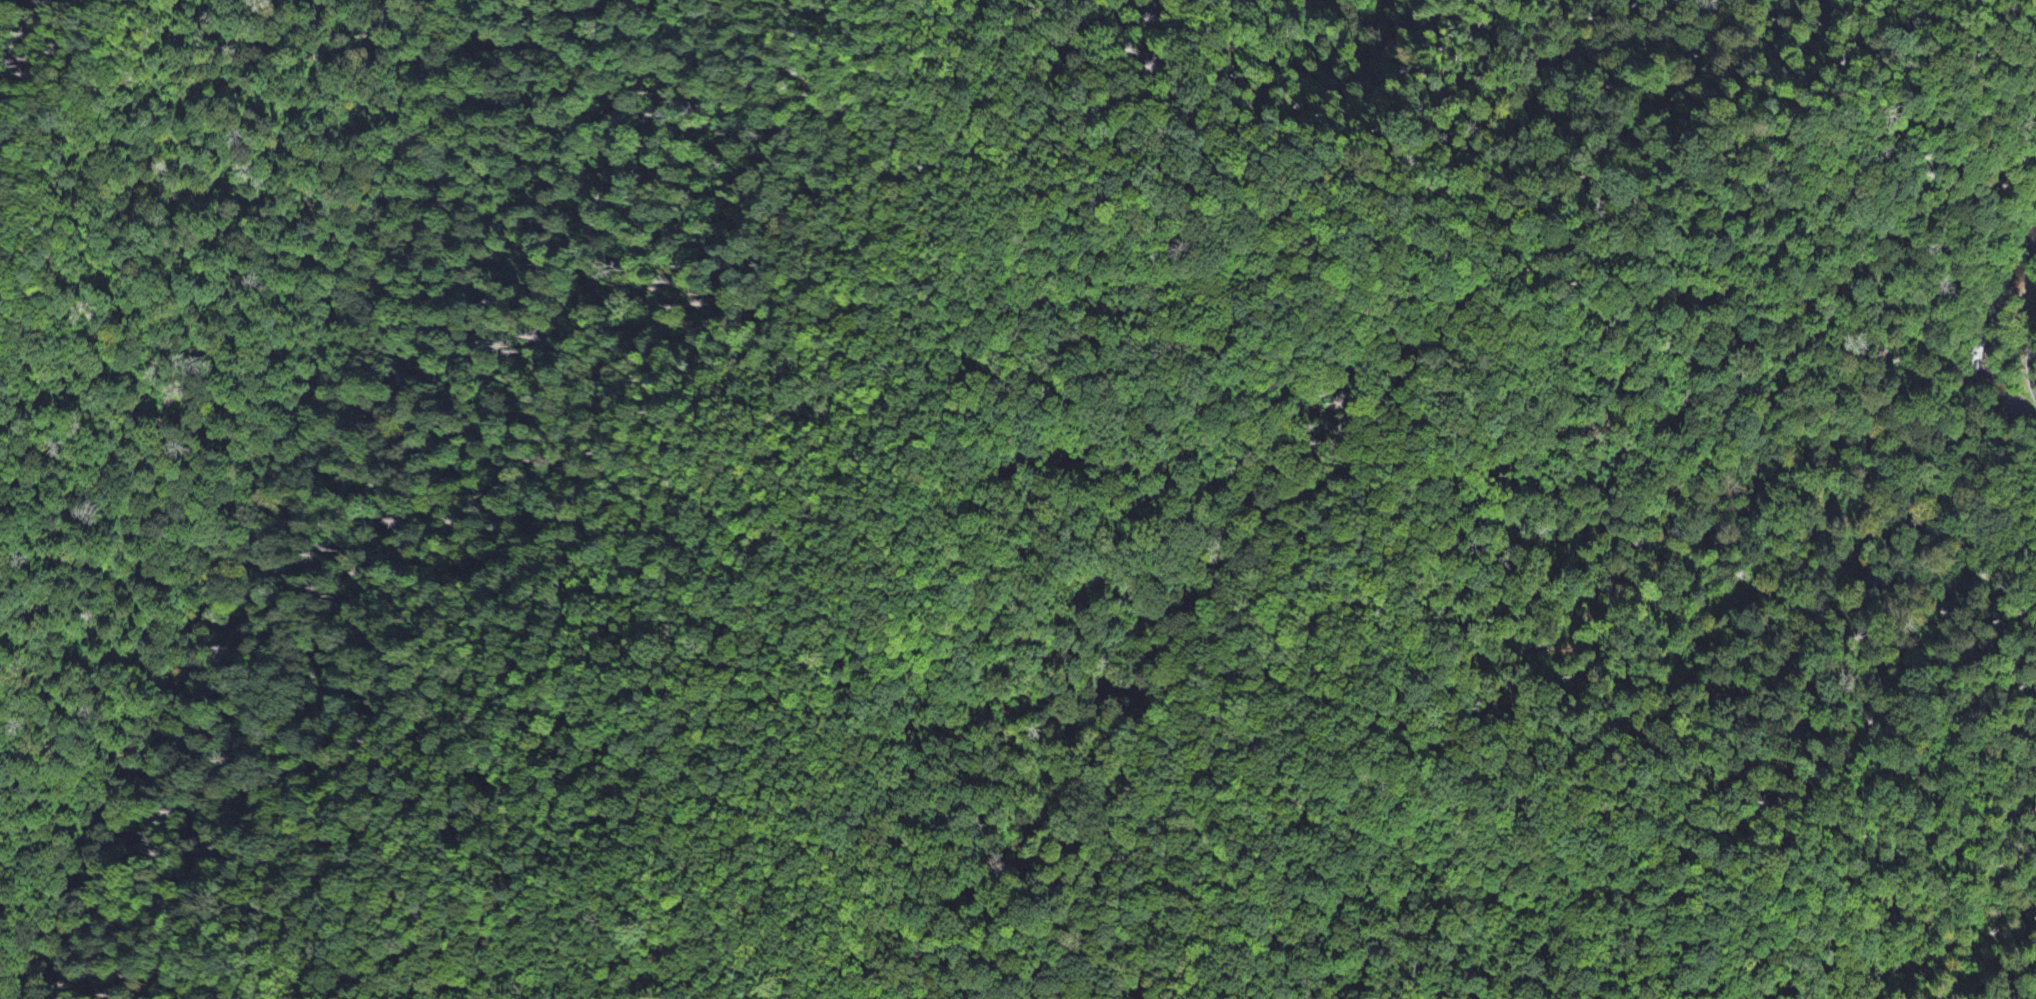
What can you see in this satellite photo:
river: (1987, 318)
road: (2031, 362)

